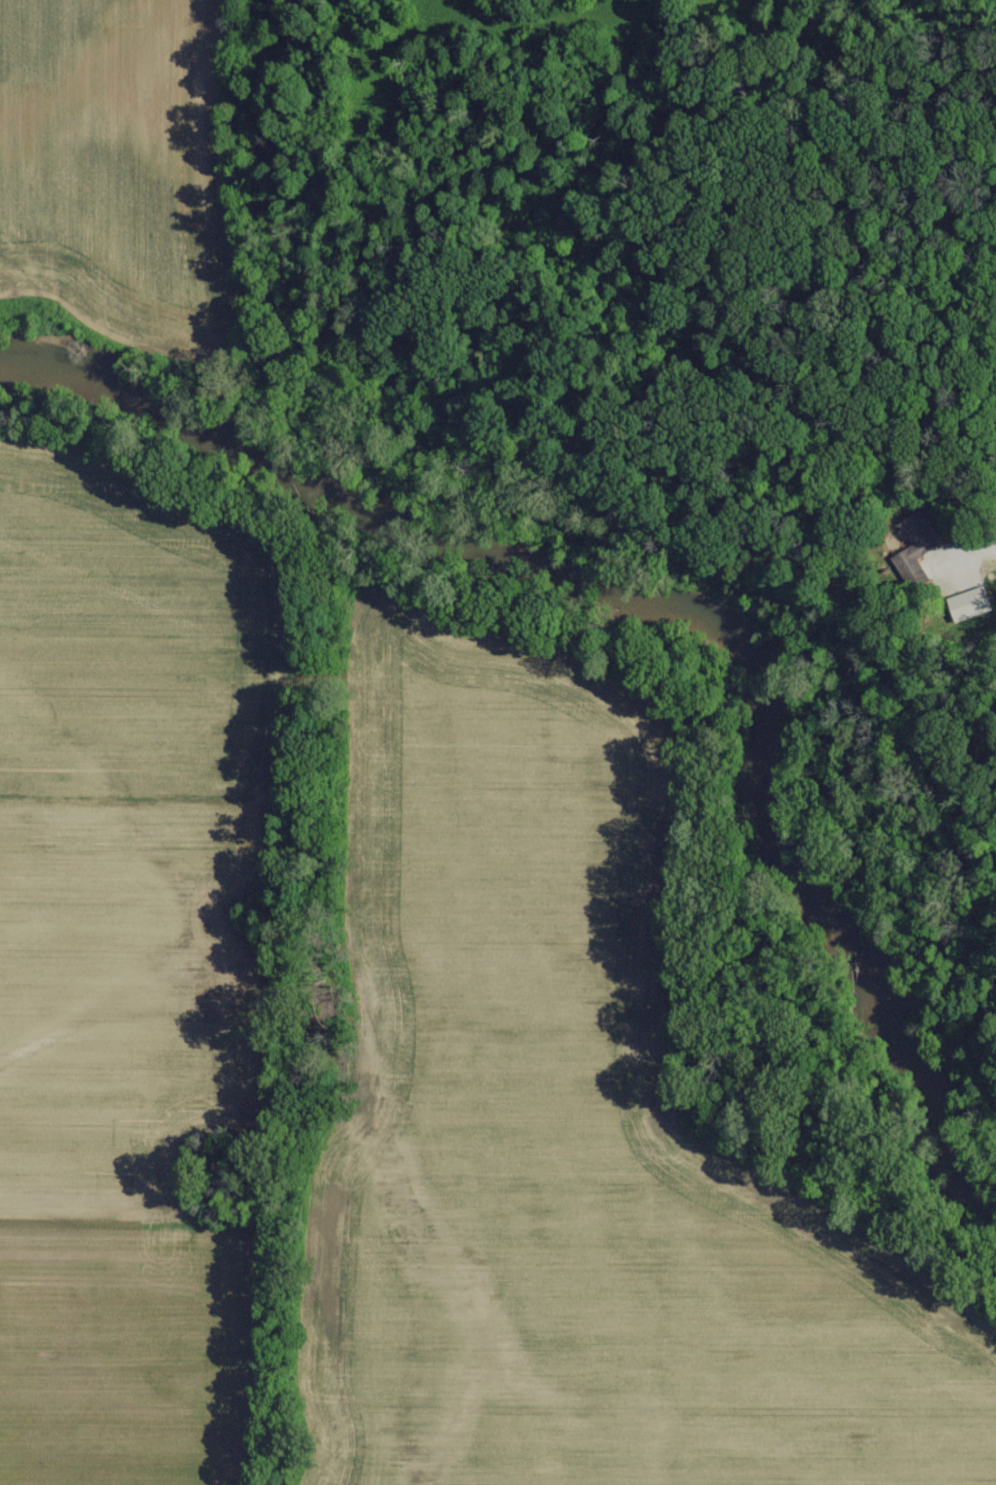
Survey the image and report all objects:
building: (918, 531)
river: (674, 602)
building: (965, 603)

